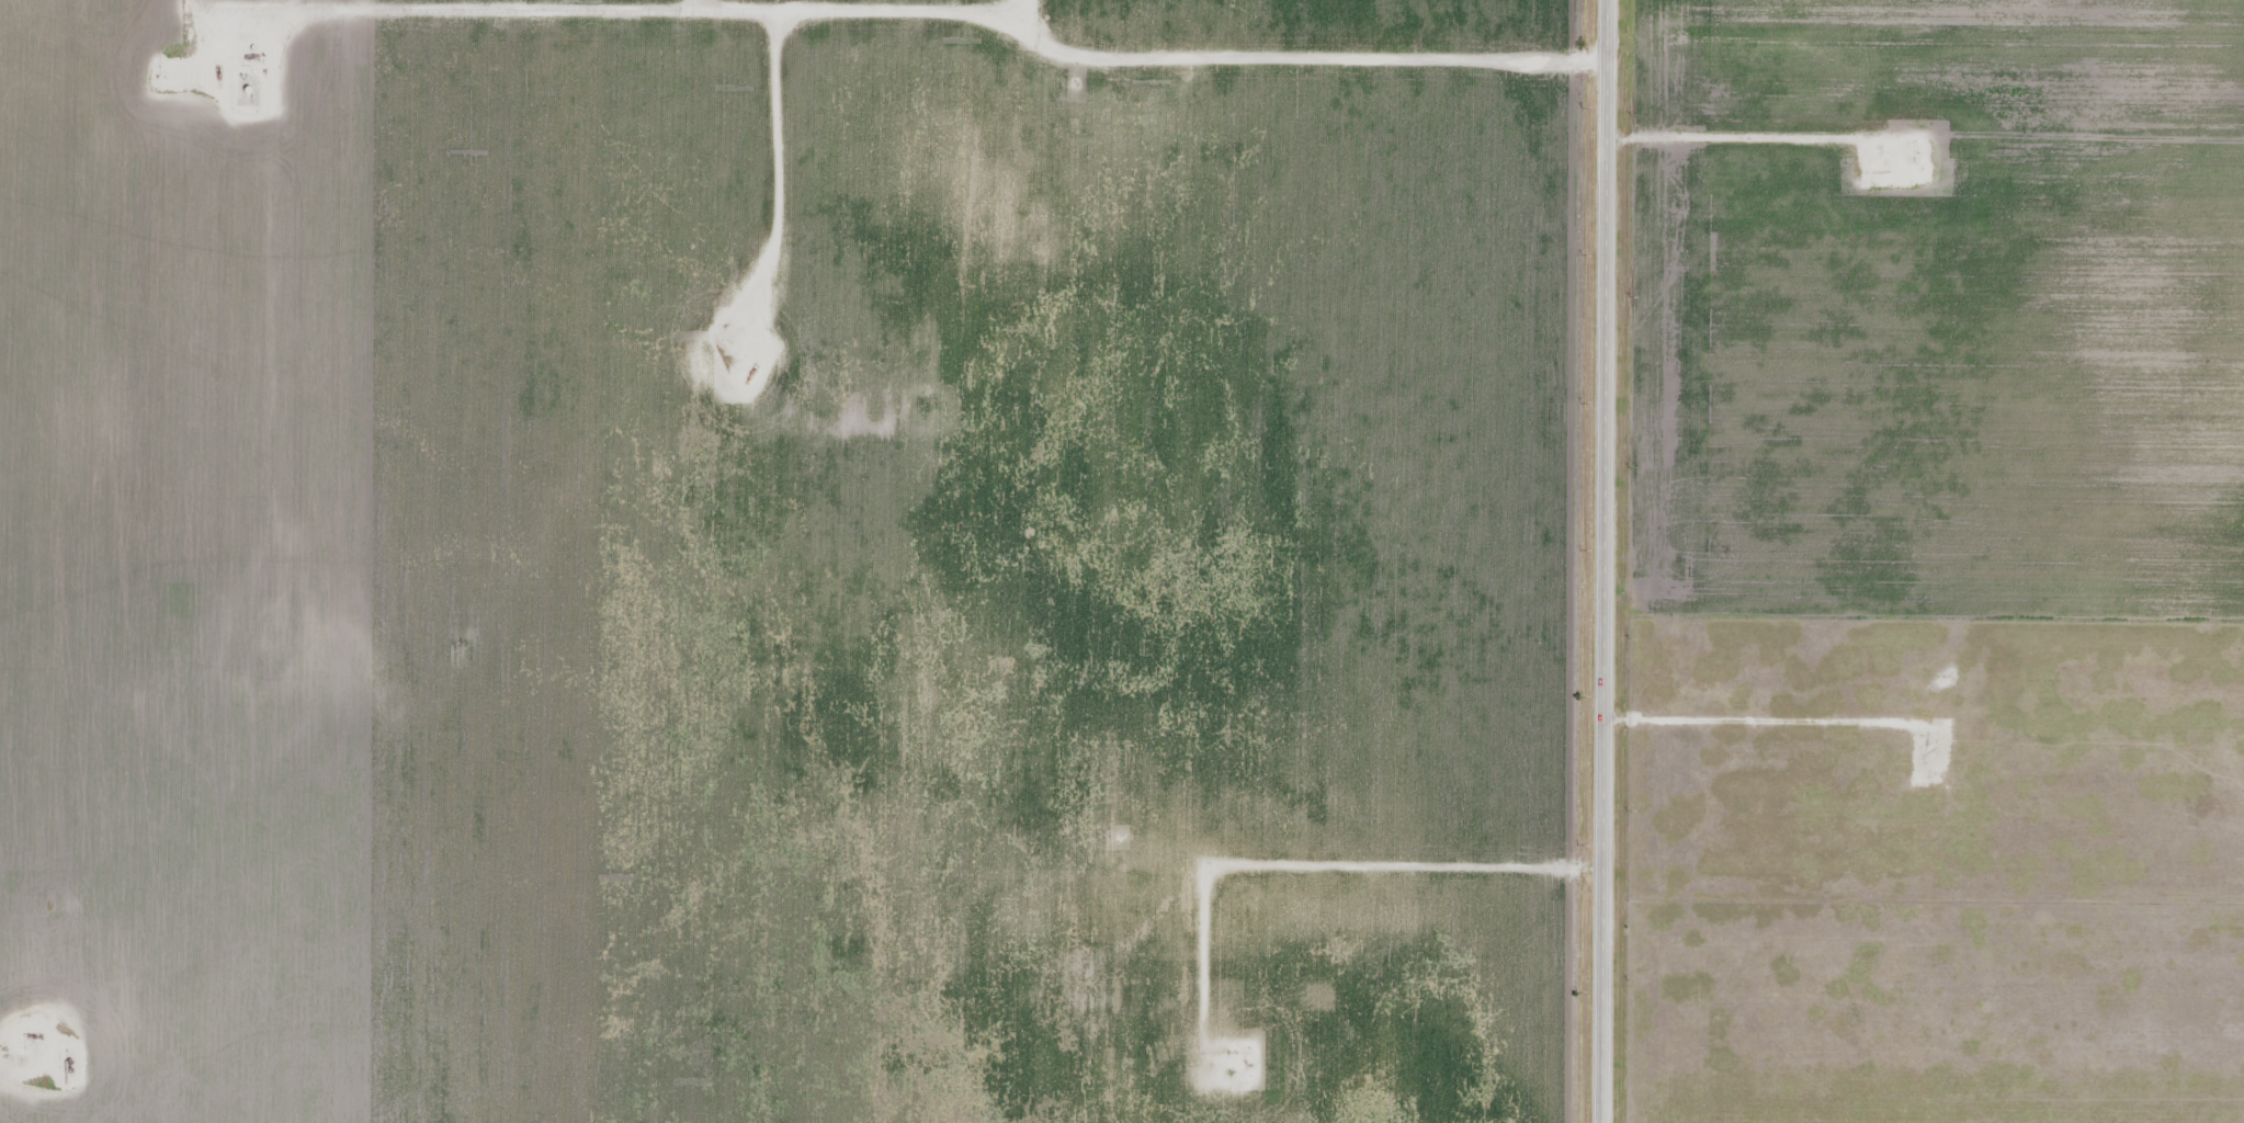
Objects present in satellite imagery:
road: (693, 8)
road: (896, 15)
road: (1020, 15)
road: (772, 200)
road: (1601, 560)

